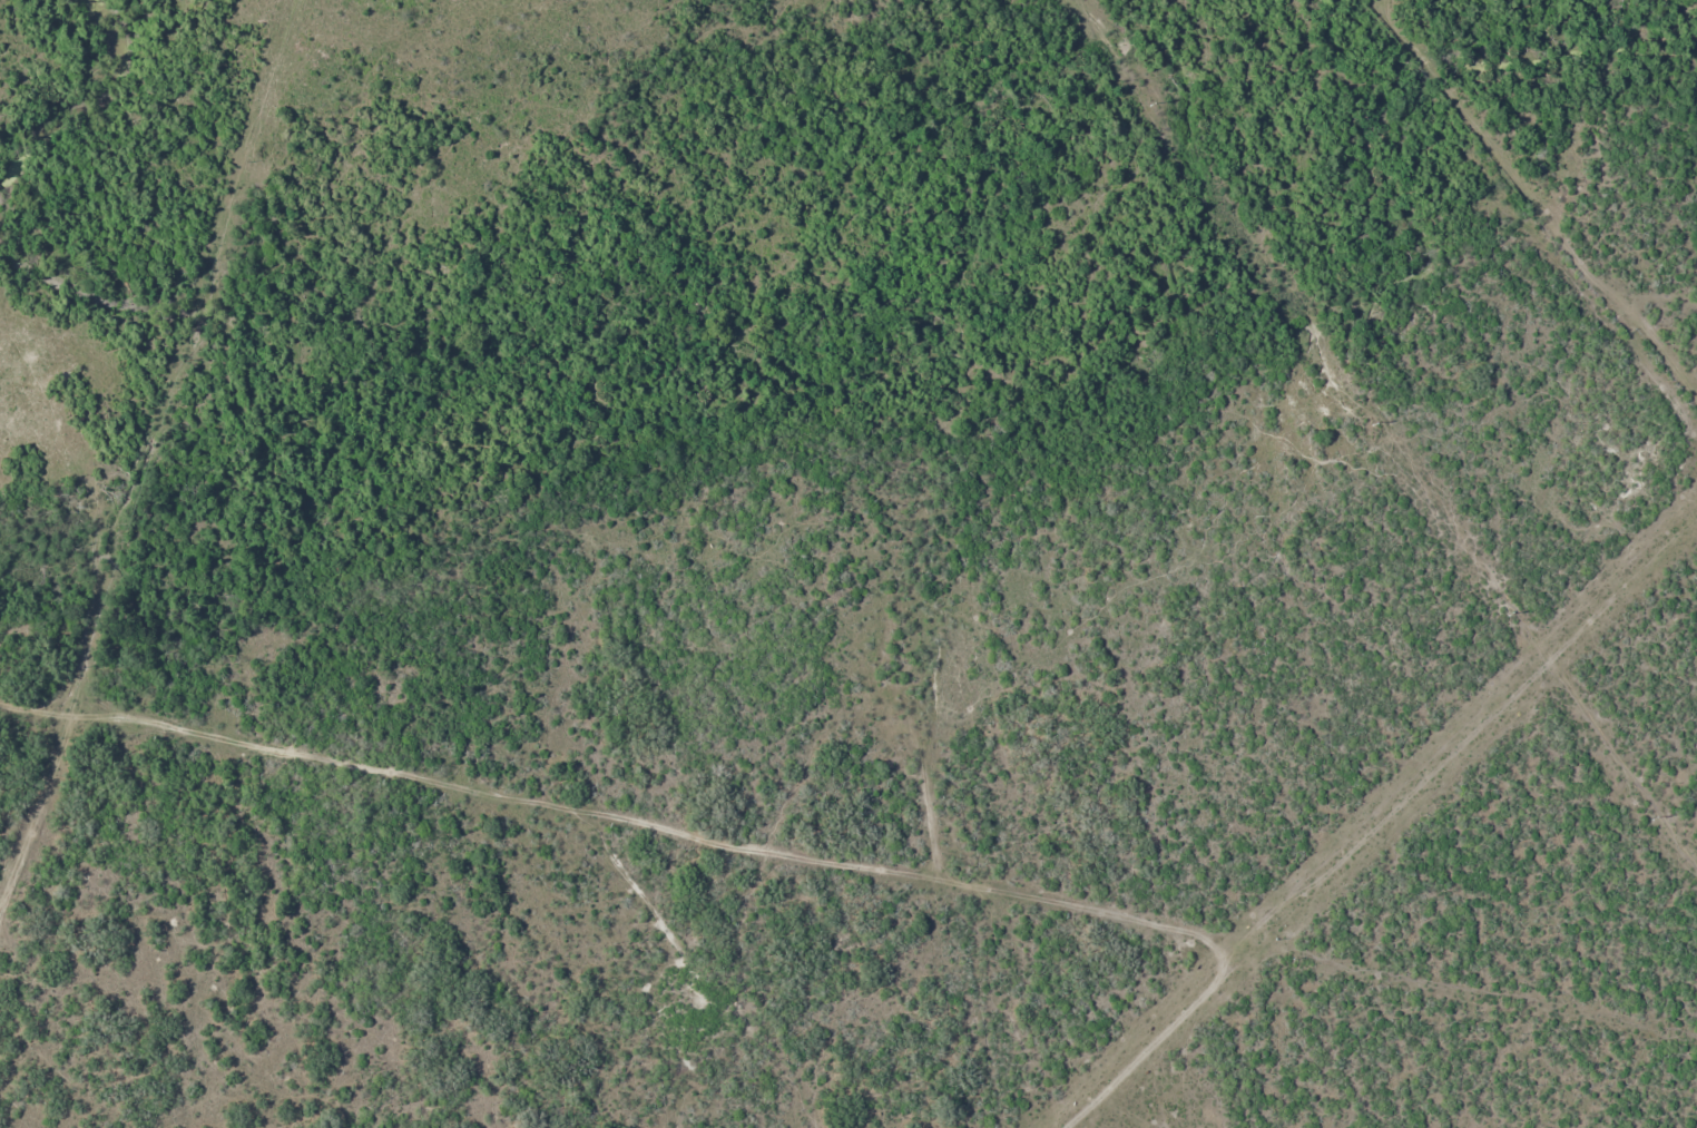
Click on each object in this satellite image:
road: (1156, 1046)

